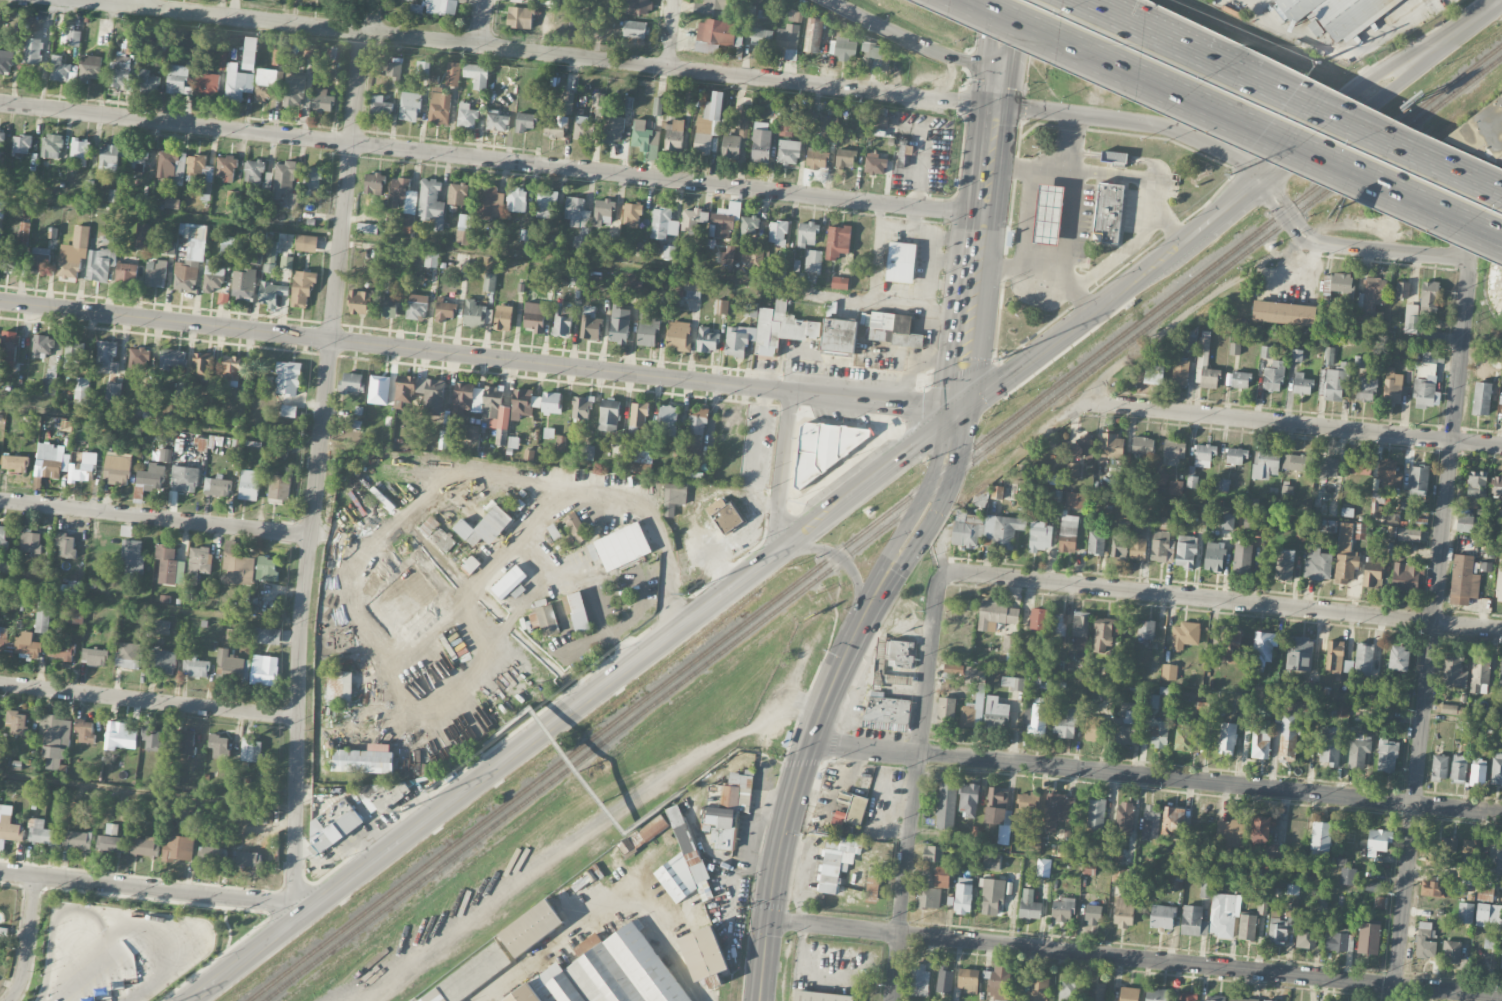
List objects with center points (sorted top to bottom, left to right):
building: (408, 0)
road: (143, 3)
building: (442, 7)
building: (638, 7)
building: (710, 7)
building: (1336, 14)
road: (369, 15)
building: (795, 16)
building: (519, 17)
road: (1017, 20)
road: (480, 23)
building: (635, 29)
road: (671, 34)
building: (714, 35)
building: (813, 35)
building: (761, 37)
building: (73, 38)
road: (914, 42)
road: (1162, 42)
building: (787, 43)
road: (1337, 47)
building: (844, 49)
building: (33, 51)
building: (250, 53)
road: (543, 53)
building: (871, 54)
building: (278, 57)
building: (222, 60)
building: (7, 61)
power tower: (1319, 62)
building: (89, 68)
building: (422, 68)
building: (61, 71)
building: (120, 72)
traffic signals: (1002, 72)
building: (394, 73)
building: (452, 74)
building: (477, 75)
building: (178, 80)
road: (1000, 81)
building: (148, 83)
building: (237, 83)
building: (208, 85)
building: (265, 85)
road: (1169, 89)
building: (294, 90)
road: (1279, 96)
building: (598, 99)
building: (694, 99)
building: (322, 100)
building: (567, 103)
traffic signals: (998, 106)
building: (380, 107)
building: (409, 107)
building: (439, 107)
building: (711, 115)
building: (466, 116)
building: (525, 121)
road: (1137, 121)
building: (497, 123)
building: (744, 123)
building: (555, 126)
building: (829, 127)
building: (582, 128)
building: (613, 129)
building: (674, 136)
building: (645, 139)
building: (1475, 140)
building: (703, 141)
building: (1, 142)
building: (761, 142)
road: (1068, 143)
building: (22, 145)
building: (51, 146)
building: (731, 147)
road: (1402, 150)
building: (79, 152)
building: (789, 152)
building: (109, 158)
building: (1114, 158)
building: (137, 159)
road: (493, 159)
building: (816, 159)
building: (845, 159)
building: (875, 164)
building: (172, 167)
building: (226, 168)
building: (253, 171)
building: (200, 172)
road: (1113, 174)
power tower: (1230, 174)
building: (374, 183)
building: (285, 184)
road: (1390, 187)
building: (457, 194)
road: (1158, 198)
building: (404, 200)
building: (516, 200)
building: (431, 202)
building: (172, 203)
building: (489, 203)
road: (1230, 203)
building: (546, 205)
building: (1, 209)
building: (574, 211)
building: (603, 211)
building: (1107, 213)
building: (1047, 214)
building: (631, 215)
road: (986, 215)
road: (912, 218)
building: (693, 220)
building: (724, 220)
road: (1026, 220)
building: (663, 224)
road: (1072, 225)
building: (749, 226)
building: (464, 227)
building: (367, 228)
building: (24, 233)
building: (777, 233)
road: (1482, 234)
building: (141, 235)
building: (807, 235)
road: (954, 235)
building: (109, 242)
building: (837, 242)
building: (306, 243)
road: (1131, 244)
road: (930, 245)
road: (1350, 246)
building: (168, 248)
building: (669, 252)
building: (73, 253)
building: (226, 253)
building: (270, 253)
building: (729, 256)
building: (752, 256)
building: (190, 257)
building: (254, 258)
building: (430, 259)
building: (39, 260)
building: (813, 261)
building: (9, 262)
road: (955, 262)
building: (901, 263)
building: (100, 264)
building: (781, 268)
building: (126, 274)
building: (155, 274)
building: (489, 282)
building: (243, 284)
building: (1343, 284)
building: (302, 289)
building: (692, 289)
building: (272, 294)
road: (884, 294)
road: (1078, 294)
building: (1372, 294)
building: (1429, 298)
building: (359, 302)
building: (388, 307)
building: (417, 307)
building: (721, 307)
building: (445, 310)
building: (750, 310)
road: (1188, 311)
building: (1282, 312)
building: (474, 314)
building: (535, 317)
building: (503, 318)
building: (1411, 318)
building: (562, 321)
building: (592, 324)
building: (619, 325)
building: (781, 328)
building: (648, 329)
building: (891, 329)
building: (678, 336)
building: (839, 336)
building: (707, 340)
building: (738, 340)
building: (1188, 342)
building: (41, 347)
building: (1234, 348)
building: (8, 349)
road: (1462, 349)
building: (1266, 352)
road: (481, 355)
building: (1329, 355)
building: (73, 356)
building: (106, 358)
building: (172, 358)
building: (138, 359)
power tower: (1003, 360)
building: (202, 365)
building: (1206, 365)
building: (231, 370)
building: (1180, 372)
building: (1153, 375)
building: (1273, 376)
building: (288, 378)
building: (1240, 379)
building: (1427, 381)
building: (1333, 382)
building: (351, 383)
building: (1302, 383)
building: (1392, 384)
building: (49, 385)
building: (1366, 389)
building: (407, 390)
building: (81, 391)
building: (113, 392)
building: (434, 397)
building: (1481, 398)
building: (467, 399)
building: (521, 403)
building: (551, 403)
building: (581, 408)
traffic signals: (963, 410)
building: (289, 411)
building: (496, 413)
building: (608, 415)
building: (638, 417)
building: (669, 418)
building: (697, 422)
road: (1277, 423)
building: (472, 433)
road: (761, 440)
road: (1479, 443)
building: (1112, 445)
building: (1143, 445)
building: (1081, 447)
building: (825, 449)
building: (1173, 449)
building: (280, 450)
building: (587, 452)
building: (1203, 454)
building: (165, 455)
building: (1235, 455)
building: (50, 461)
building: (643, 461)
building: (1294, 461)
building: (14, 463)
building: (1266, 465)
building: (1361, 465)
road: (316, 466)
building: (83, 468)
building: (1327, 468)
building: (1072, 469)
building: (117, 470)
road: (783, 471)
building: (1388, 474)
building: (149, 479)
building: (184, 479)
building: (1160, 480)
building: (1418, 480)
building: (1192, 481)
building: (1175, 486)
building: (217, 487)
building: (1476, 487)
building: (1497, 487)
building: (248, 488)
building: (279, 488)
building: (1286, 490)
building: (172, 498)
building: (674, 498)
building: (1074, 500)
road: (761, 506)
building: (724, 515)
road: (154, 517)
building: (1227, 520)
railway: (874, 522)
building: (1254, 522)
building: (1466, 523)
building: (485, 527)
building: (576, 528)
building: (966, 528)
railway: (882, 529)
building: (1003, 530)
building: (1067, 533)
building: (1408, 533)
building: (437, 535)
building: (1039, 536)
building: (3, 537)
building: (30, 541)
building: (1096, 542)
building: (65, 545)
building: (1160, 545)
building: (1119, 546)
building: (1137, 548)
road: (722, 549)
building: (1348, 550)
building: (1186, 551)
building: (132, 556)
building: (1214, 556)
building: (419, 558)
building: (1242, 558)
road: (842, 559)
building: (198, 561)
building: (1317, 563)
building: (167, 564)
building: (1284, 564)
building: (237, 566)
building: (267, 568)
building: (1372, 571)
road: (720, 572)
building: (1405, 576)
building: (1463, 580)
building: (509, 582)
road: (356, 583)
building: (1499, 585)
road: (473, 587)
power tower: (685, 596)
building: (597, 599)
road: (1226, 600)
building: (576, 611)
building: (603, 612)
building: (74, 614)
building: (997, 615)
building: (43, 617)
building: (551, 618)
building: (1038, 618)
building: (1059, 624)
building: (161, 627)
road: (857, 627)
building: (1146, 629)
building: (1079, 630)
building: (1103, 634)
building: (267, 636)
building: (1184, 636)
building: (5, 642)
building: (1015, 645)
building: (1264, 647)
building: (1230, 648)
building: (27, 649)
building: (60, 651)
building: (1299, 652)
building: (900, 654)
building: (128, 656)
building: (1334, 656)
building: (94, 657)
building: (1398, 657)
building: (1364, 659)
building: (163, 660)
building: (195, 666)
building: (231, 667)
building: (951, 669)
building: (264, 670)
building: (1169, 671)
building: (1454, 671)
building: (1479, 672)
building: (1501, 674)
building: (976, 675)
building: (1012, 682)
building: (339, 685)
road: (149, 700)
building: (1154, 701)
road: (577, 704)
building: (947, 709)
building: (1264, 709)
building: (887, 712)
building: (973, 712)
building: (996, 712)
building: (1036, 716)
road: (1423, 720)
building: (16, 723)
building: (1067, 723)
building: (1126, 723)
building: (1092, 728)
building: (84, 731)
building: (1156, 731)
building: (120, 736)
building: (151, 738)
building: (1185, 738)
building: (1227, 738)
building: (1288, 738)
building: (54, 739)
building: (1261, 741)
building: (184, 742)
building: (1330, 745)
building: (219, 746)
building: (251, 750)
road: (731, 750)
building: (1358, 752)
building: (1387, 754)
building: (364, 760)
road: (473, 760)
building: (1439, 767)
building: (1458, 767)
building: (1496, 768)
building: (1478, 770)
road: (576, 772)
road: (1156, 777)
road: (915, 784)
road: (148, 793)
building: (730, 793)
building: (844, 798)
building: (968, 800)
building: (1026, 803)
building: (946, 805)
building: (995, 805)
building: (856, 810)
building: (1055, 810)
power tower: (400, 813)
building: (1096, 813)
building: (838, 816)
building: (1124, 818)
building: (1173, 820)
building: (1151, 822)
building: (333, 824)
building: (9, 825)
building: (719, 826)
building: (1260, 832)
building: (42, 833)
building: (643, 835)
building: (1229, 835)
building: (1320, 835)
building: (77, 840)
building: (1379, 840)
building: (1448, 843)
building: (110, 845)
building: (143, 847)
building: (1470, 847)
building: (177, 848)
building: (933, 853)
building: (211, 856)
building: (248, 859)
building: (1495, 859)
building: (836, 862)
building: (683, 864)
building: (1347, 875)
building: (942, 877)
building: (1175, 880)
building: (872, 884)
building: (1206, 886)
building: (1372, 886)
road: (157, 888)
building: (1436, 889)
building: (1485, 893)
building: (991, 895)
building: (929, 898)
building: (963, 898)
building: (1029, 904)
building: (1061, 909)
road: (606, 911)
building: (1123, 911)
building: (1465, 912)
building: (1092, 913)
building: (1488, 914)
building: (1162, 916)
building: (1212, 917)
building: (1247, 927)
building: (531, 928)
building: (1277, 931)
building: (1306, 935)
building: (1368, 938)
road: (27, 939)
building: (1425, 940)
railway: (405, 941)
building: (1337, 941)
building: (1490, 941)
building: (1452, 951)
building: (704, 956)
road: (1135, 959)
building: (607, 973)
building: (469, 976)
building: (967, 979)
building: (918, 980)
building: (944, 980)
building: (998, 986)
building: (1039, 989)
building: (1069, 990)
building: (1097, 991)
building: (1128, 994)
building: (1155, 995)
building: (820, 996)
building: (1186, 997)
building: (1214, 998)
building: (1242, 999)
building: (1267, 1000)

